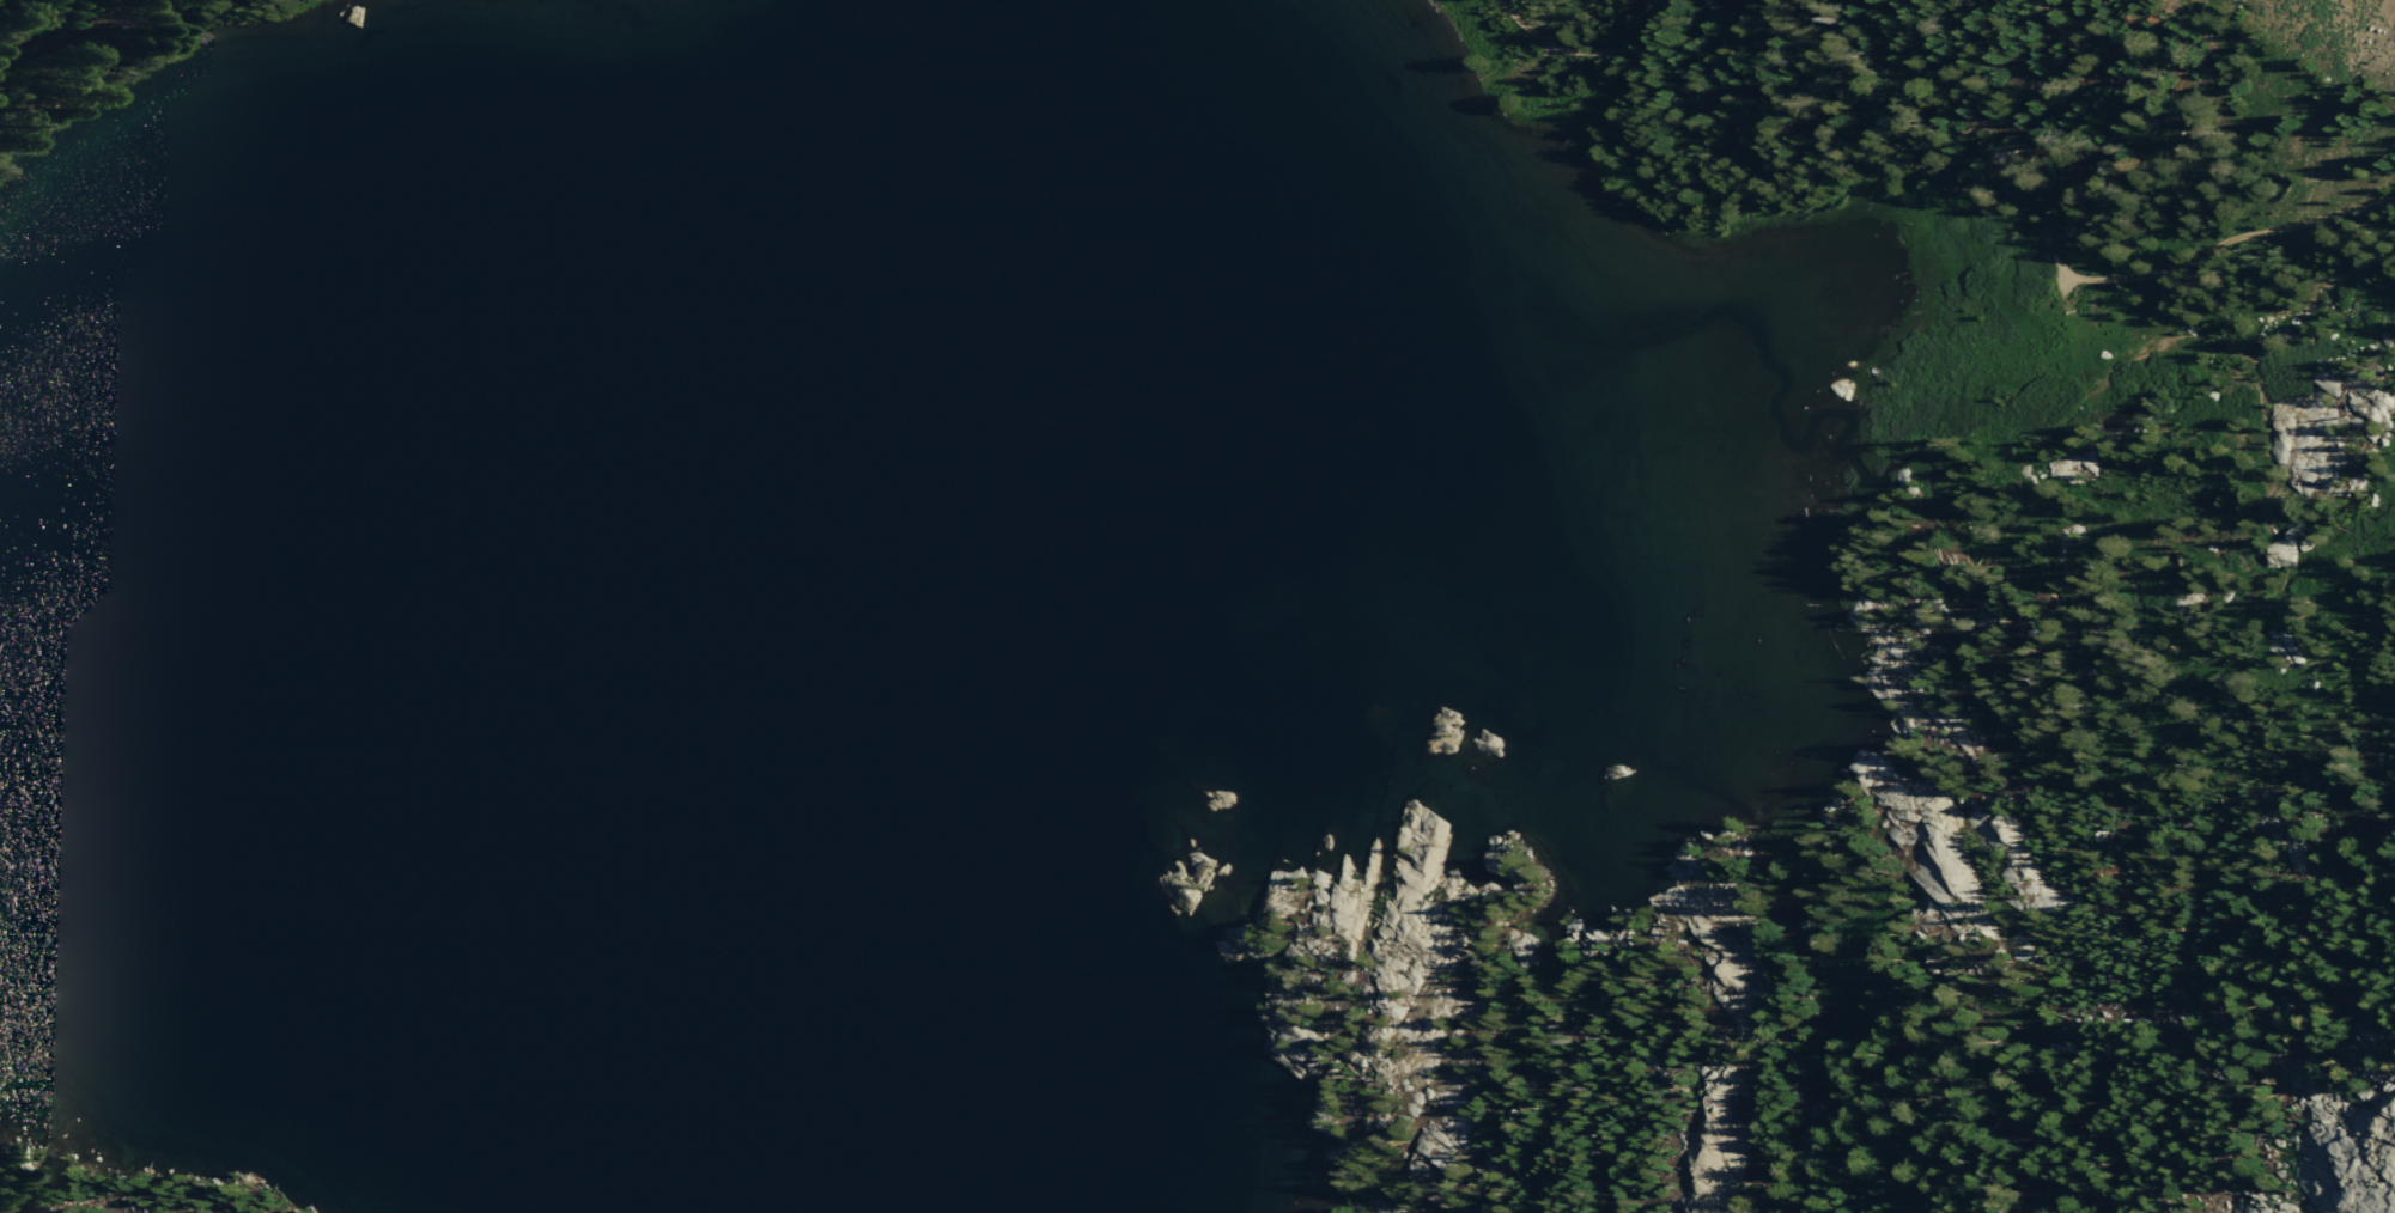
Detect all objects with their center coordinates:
road: (1944, 181)
road: (1967, 493)
road: (2087, 1052)
road: (144, 1195)

